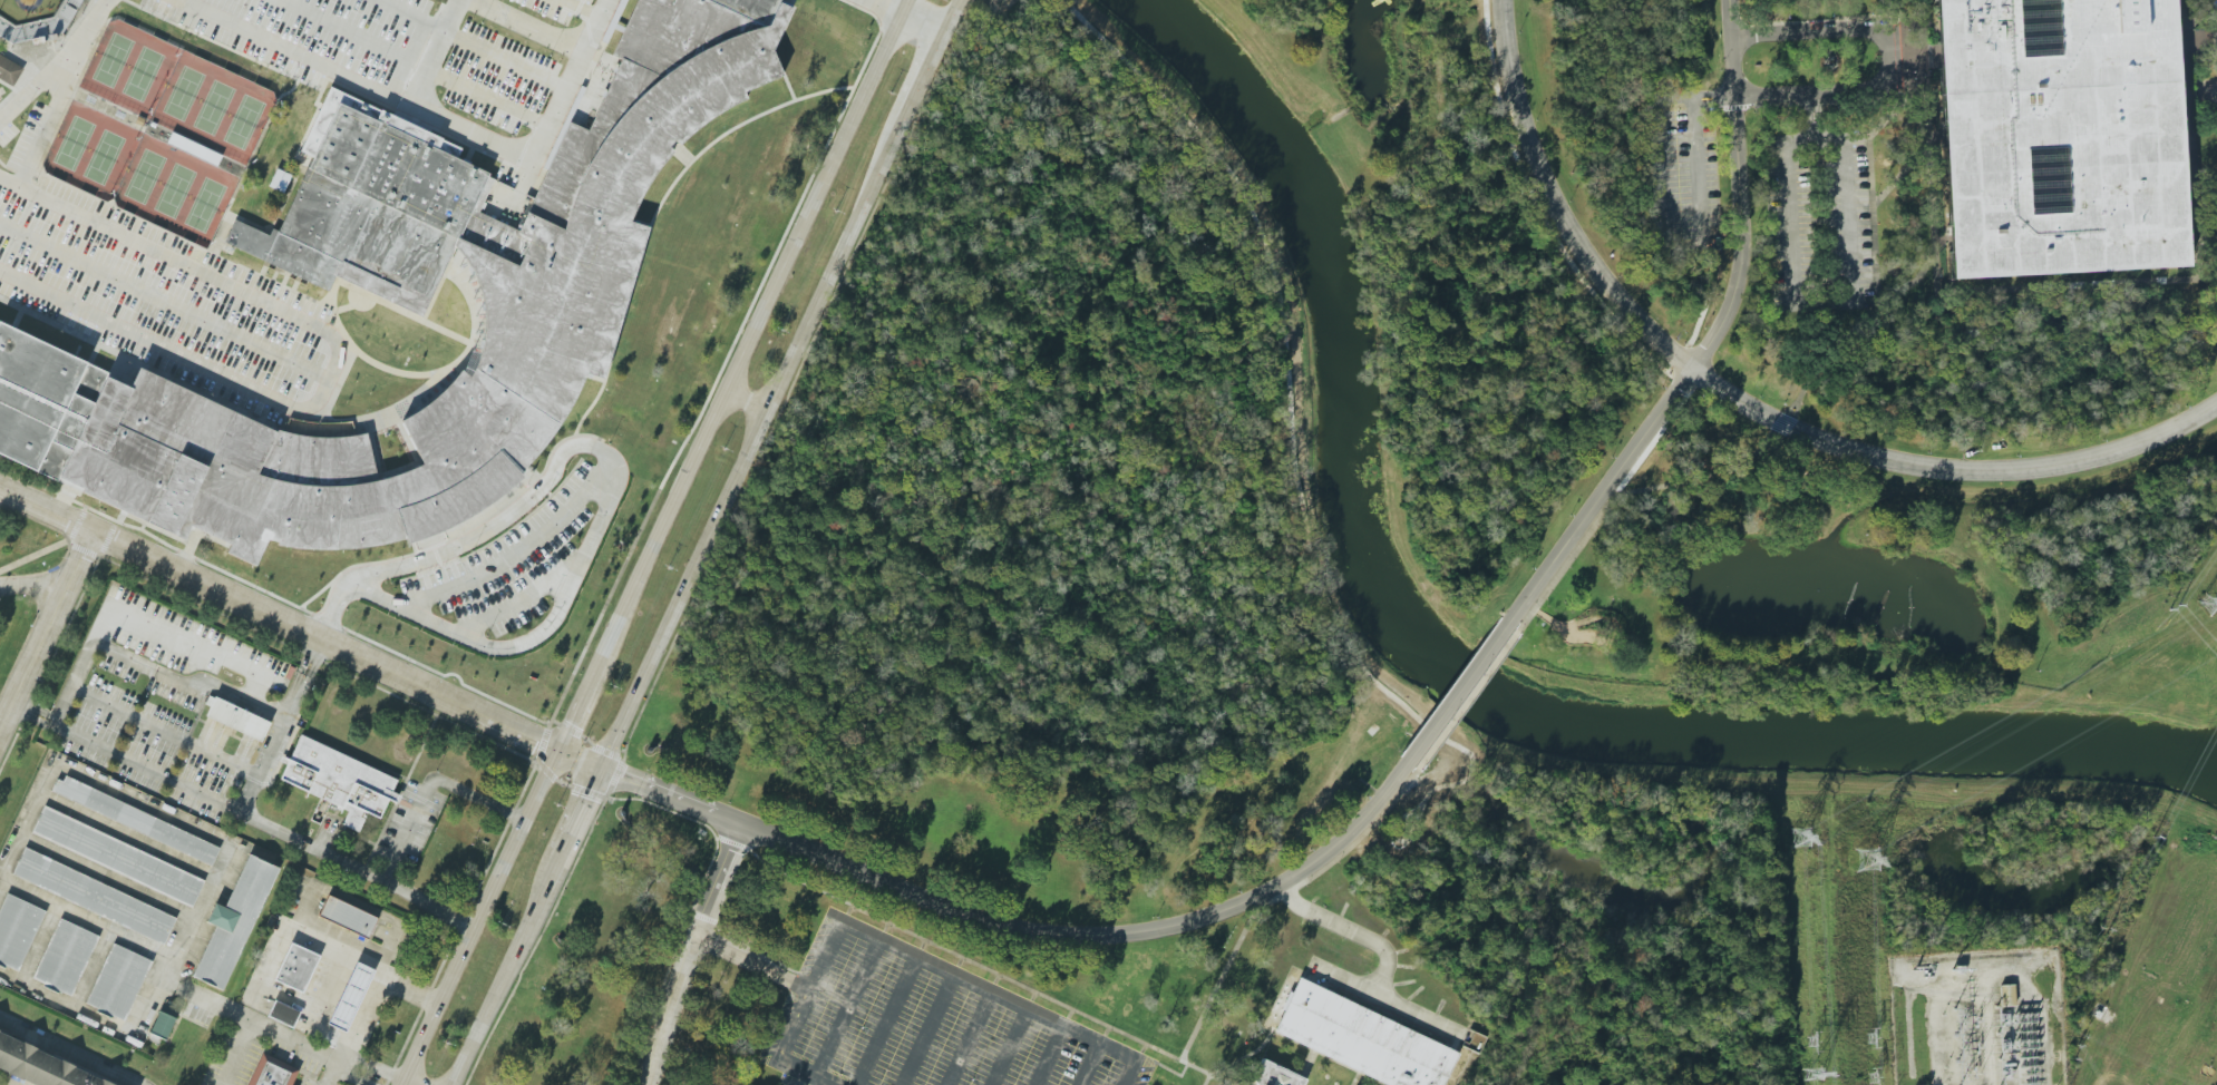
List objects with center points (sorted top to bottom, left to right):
park: (27, 10)
road: (906, 16)
road: (952, 17)
road: (534, 23)
building: (41, 26)
road: (2214, 26)
park: (232, 29)
road: (878, 39)
road: (474, 42)
park: (263, 43)
road: (296, 52)
road: (2186, 55)
road: (1885, 56)
road: (52, 60)
building: (9, 69)
road: (839, 72)
road: (924, 77)
road: (833, 79)
road: (2210, 89)
stadium: (3, 91)
park: (185, 94)
park: (215, 107)
park: (245, 121)
building: (2058, 136)
building: (26, 141)
road: (496, 146)
building: (4, 149)
building: (51, 167)
parking lot: (1683, 174)
park: (146, 176)
park: (176, 190)
parking lot: (721, 204)
road: (1558, 204)
park: (206, 205)
road: (731, 213)
parking lot: (1819, 219)
road: (1664, 227)
building: (554, 280)
road: (651, 287)
road: (163, 301)
road: (1803, 304)
road: (755, 331)
road: (1711, 342)
road: (334, 360)
building: (42, 402)
road: (1763, 434)
road: (752, 444)
road: (1949, 468)
road: (612, 471)
park: (1777, 574)
road: (35, 586)
road: (283, 600)
power tower: (2207, 602)
road: (280, 617)
road: (47, 632)
road: (205, 644)
river: (1457, 671)
road: (169, 672)
road: (302, 678)
road: (1458, 692)
road: (580, 706)
building: (237, 719)
road: (164, 733)
road: (580, 760)
building: (339, 781)
road: (431, 782)
road: (600, 794)
road: (148, 810)
road: (246, 812)
road: (580, 815)
power tower: (1798, 838)
power tower: (1867, 860)
road: (1, 878)
road: (693, 903)
building: (124, 906)
building: (347, 917)
road: (479, 917)
road: (298, 923)
road: (1022, 928)
road: (1353, 930)
road: (537, 940)
road: (688, 951)
road: (745, 955)
road: (906, 955)
road: (973, 961)
building: (296, 967)
road: (1225, 967)
road: (504, 972)
road: (799, 985)
road: (375, 988)
building: (2006, 995)
building: (350, 996)
road: (207, 998)
road: (1384, 1001)
road: (847, 1008)
road: (95, 1014)
building: (283, 1014)
power substation: (1976, 1019)
road: (885, 1022)
parking lot: (925, 1023)
road: (268, 1025)
road: (927, 1030)
road: (969, 1038)
power tower: (1870, 1038)
building: (1362, 1039)
power tower: (1812, 1042)
road: (1009, 1047)
road: (70, 1052)
road: (1050, 1055)
road: (1239, 1057)
road: (361, 1059)
road: (1090, 1064)
building: (41, 1067)
building: (272, 1072)
road: (333, 1072)
power tower: (1812, 1075)
building: (1272, 1076)
power tower: (1873, 1079)

